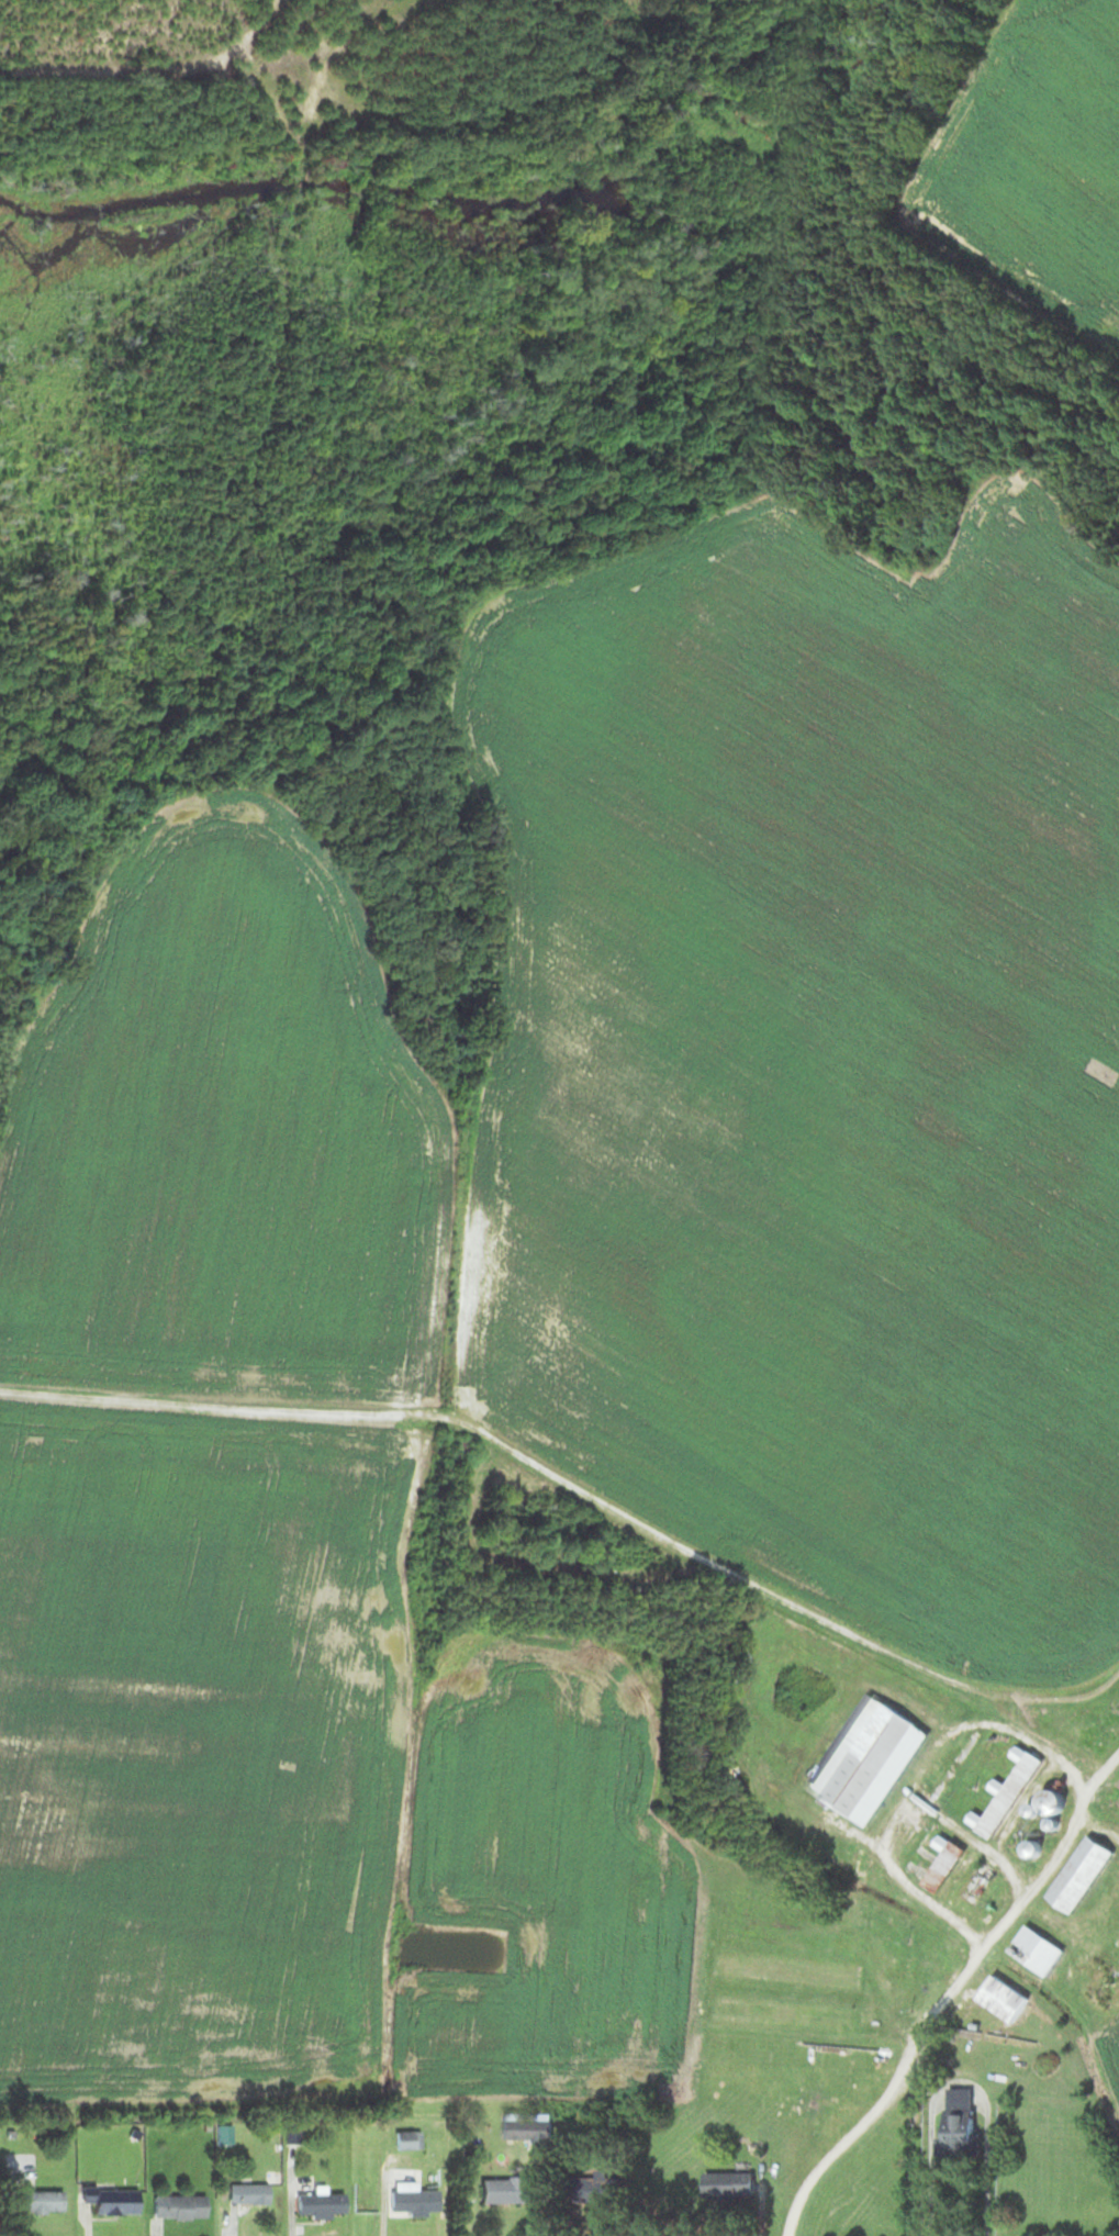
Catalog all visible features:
building: (864, 1758)
road: (911, 1775)
building: (1003, 1792)
building: (1048, 1799)
road: (969, 1836)
building: (941, 1860)
building: (1077, 1872)
building: (973, 1885)
building: (1033, 1949)
building: (783, 1968)
road: (949, 1988)
building: (999, 1998)
building: (780, 2014)
building: (955, 2120)
building: (526, 2128)
building: (405, 2139)
building: (725, 2183)
building: (503, 2189)
building: (245, 2192)
building: (108, 2199)
building: (410, 2199)
building: (37, 2200)
building: (316, 2203)
building: (176, 2204)

